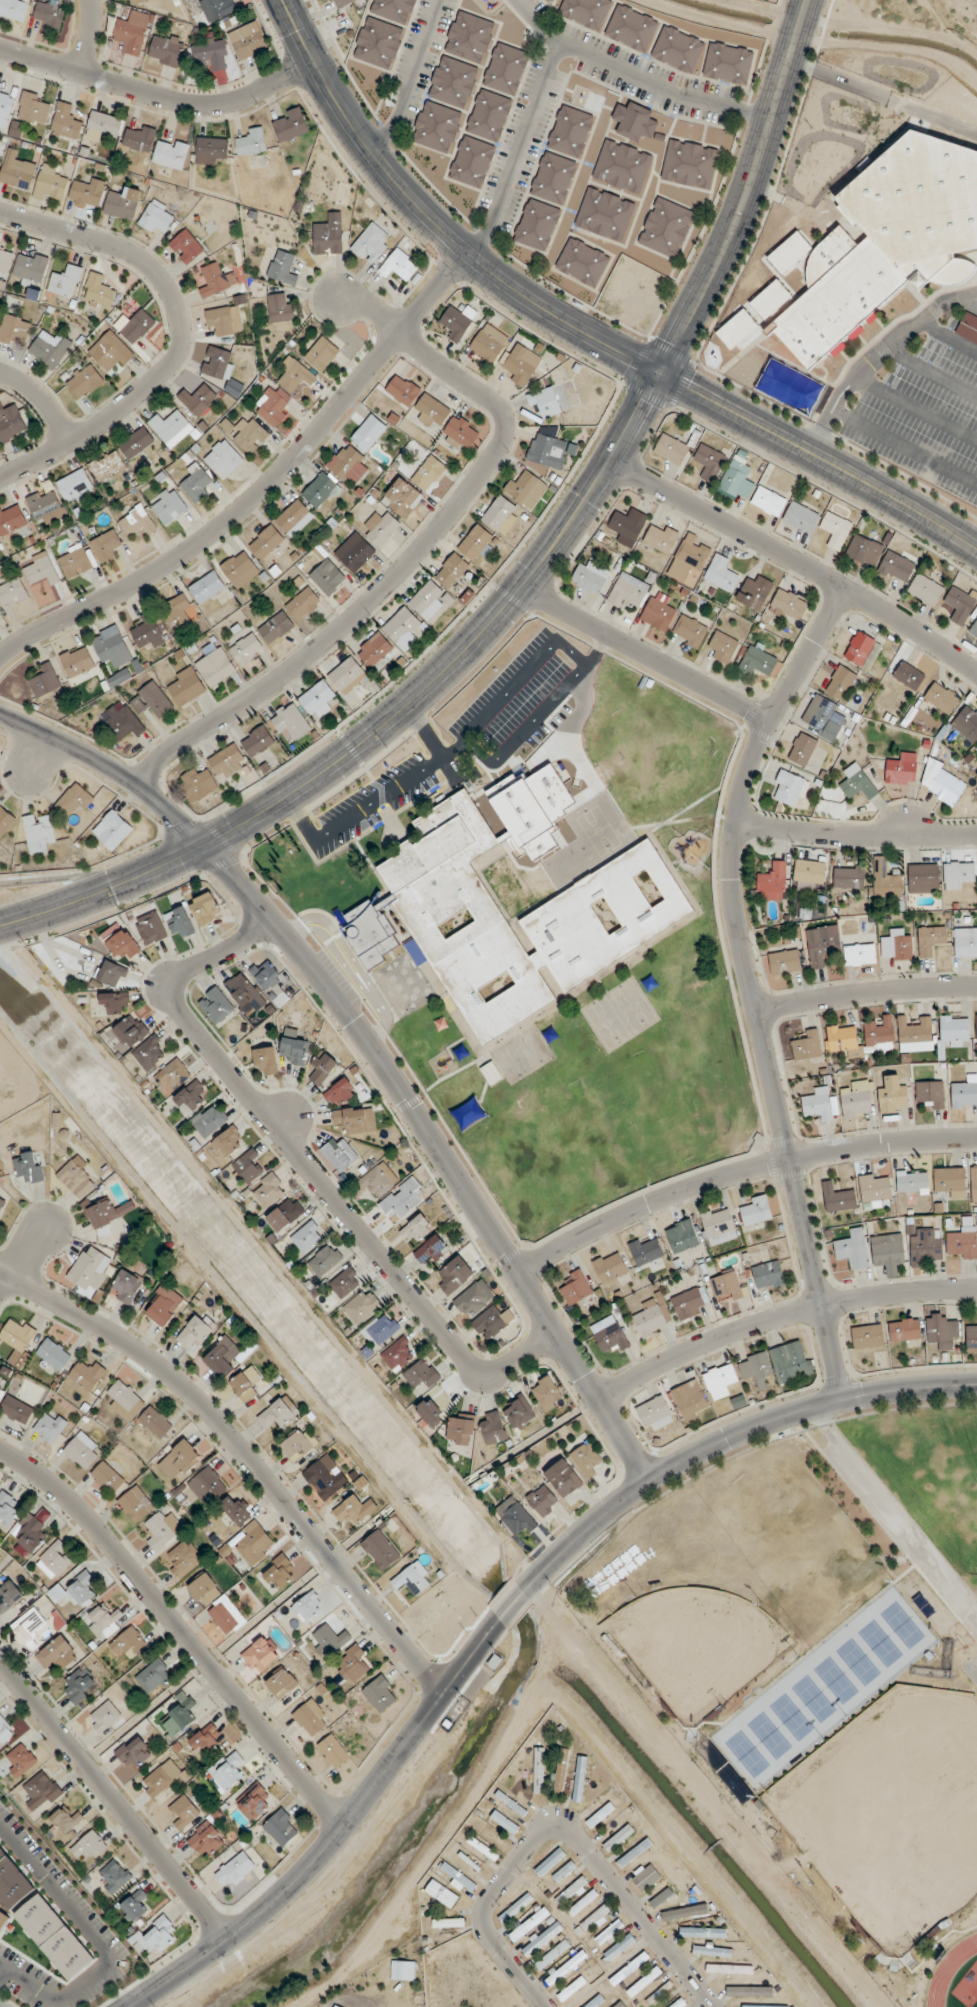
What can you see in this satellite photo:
building: (544, 0)
building: (135, 2)
building: (341, 3)
building: (13, 9)
building: (217, 9)
building: (392, 10)
building: (583, 12)
building: (48, 15)
building: (630, 27)
building: (131, 33)
road: (89, 36)
building: (469, 37)
building: (247, 41)
building: (377, 42)
building: (676, 49)
building: (165, 50)
building: (211, 55)
building: (727, 63)
building: (504, 68)
road: (633, 76)
road: (412, 78)
building: (452, 82)
road: (158, 95)
road: (883, 98)
building: (5, 102)
building: (33, 109)
building: (487, 115)
building: (65, 121)
building: (633, 121)
building: (102, 126)
building: (289, 126)
building: (436, 127)
building: (569, 131)
building: (139, 139)
building: (251, 143)
building: (210, 150)
road: (518, 151)
building: (170, 154)
building: (471, 161)
building: (688, 163)
building: (621, 167)
building: (17, 172)
building: (552, 178)
building: (50, 184)
road: (745, 191)
building: (87, 193)
building: (122, 203)
building: (604, 214)
building: (155, 219)
building: (535, 225)
building: (666, 227)
building: (328, 235)
building: (371, 243)
building: (886, 244)
building: (184, 246)
building: (4, 260)
building: (581, 262)
building: (399, 265)
building: (282, 268)
building: (31, 269)
building: (217, 280)
building: (65, 281)
building: (98, 292)
building: (280, 308)
building: (223, 321)
building: (457, 322)
building: (135, 326)
building: (968, 328)
building: (13, 329)
road: (580, 330)
road: (181, 335)
building: (489, 344)
building: (49, 349)
building: (112, 353)
road: (875, 353)
building: (321, 354)
building: (520, 365)
building: (220, 368)
building: (294, 376)
building: (85, 382)
building: (789, 388)
building: (402, 391)
road: (41, 400)
building: (198, 401)
building: (545, 403)
building: (272, 405)
building: (431, 412)
road: (635, 416)
building: (11, 423)
building: (170, 428)
building: (368, 433)
building: (460, 434)
building: (249, 435)
building: (135, 442)
building: (670, 449)
building: (546, 451)
building: (223, 459)
building: (344, 462)
building: (708, 463)
building: (106, 466)
building: (428, 473)
building: (737, 481)
building: (197, 482)
building: (75, 486)
road: (262, 489)
building: (526, 490)
building: (321, 491)
building: (402, 498)
building: (768, 501)
building: (168, 506)
building: (45, 507)
building: (498, 513)
building: (800, 517)
building: (294, 518)
building: (137, 521)
building: (12, 524)
building: (627, 527)
building: (380, 529)
building: (835, 530)
building: (661, 538)
building: (265, 543)
building: (476, 544)
building: (105, 546)
road: (422, 547)
building: (863, 551)
building: (354, 553)
building: (688, 559)
building: (74, 561)
road: (796, 561)
building: (237, 566)
building: (896, 567)
building: (40, 570)
building: (451, 571)
building: (721, 574)
building: (326, 577)
building: (589, 577)
building: (206, 588)
building: (925, 590)
building: (754, 592)
building: (12, 593)
building: (625, 594)
building: (428, 599)
building: (302, 604)
building: (957, 606)
building: (786, 607)
building: (177, 612)
building: (657, 614)
building: (276, 628)
building: (402, 628)
building: (973, 630)
building: (689, 631)
building: (148, 633)
building: (109, 645)
building: (723, 647)
building: (246, 649)
building: (859, 649)
building: (375, 652)
road: (644, 654)
building: (77, 661)
building: (758, 662)
building: (215, 665)
road: (524, 672)
building: (349, 676)
building: (908, 676)
building: (120, 677)
building: (45, 680)
building: (840, 683)
building: (185, 687)
building: (941, 698)
building: (317, 700)
building: (153, 701)
building: (824, 720)
building: (290, 721)
building: (121, 724)
building: (966, 724)
building: (590, 737)
building: (256, 741)
building: (976, 747)
building: (802, 750)
road: (350, 751)
building: (567, 751)
building: (603, 758)
building: (226, 762)
building: (546, 765)
road: (109, 768)
building: (901, 770)
building: (581, 771)
building: (615, 777)
building: (857, 783)
building: (942, 784)
building: (197, 785)
building: (559, 786)
building: (790, 789)
building: (593, 792)
road: (382, 796)
building: (628, 797)
building: (77, 802)
building: (572, 805)
building: (606, 811)
building: (5, 821)
building: (585, 825)
building: (112, 830)
building: (38, 832)
road: (855, 835)
building: (611, 846)
building: (520, 860)
building: (502, 874)
building: (808, 875)
building: (957, 875)
building: (848, 877)
building: (531, 878)
building: (772, 878)
building: (923, 879)
building: (886, 883)
building: (513, 890)
building: (205, 909)
building: (603, 921)
building: (179, 923)
building: (150, 928)
building: (930, 941)
building: (965, 942)
building: (822, 944)
building: (121, 945)
building: (897, 946)
building: (860, 955)
building: (784, 962)
road: (350, 972)
building: (112, 974)
building: (266, 976)
road: (751, 984)
road: (866, 991)
building: (244, 992)
building: (115, 1002)
building: (216, 1006)
building: (976, 1027)
building: (954, 1028)
building: (131, 1031)
building: (915, 1035)
building: (879, 1036)
building: (843, 1039)
building: (807, 1047)
building: (293, 1048)
building: (149, 1053)
building: (265, 1062)
building: (322, 1069)
building: (491, 1073)
building: (173, 1074)
building: (340, 1092)
building: (965, 1093)
building: (930, 1094)
building: (892, 1096)
building: (191, 1097)
building: (856, 1099)
building: (818, 1104)
building: (209, 1120)
building: (355, 1120)
building: (228, 1141)
road: (442, 1152)
building: (339, 1155)
building: (249, 1166)
building: (28, 1167)
road: (309, 1169)
road: (737, 1172)
building: (76, 1177)
building: (912, 1182)
building: (950, 1182)
building: (974, 1186)
building: (268, 1190)
building: (875, 1190)
building: (838, 1198)
building: (2, 1206)
building: (755, 1211)
building: (108, 1213)
building: (285, 1215)
building: (718, 1226)
building: (416, 1229)
building: (682, 1236)
building: (307, 1237)
building: (961, 1243)
building: (924, 1246)
building: (432, 1249)
building: (646, 1251)
building: (853, 1251)
building: (888, 1252)
road: (22, 1253)
building: (324, 1261)
building: (610, 1267)
building: (90, 1269)
building: (454, 1275)
building: (768, 1276)
building: (344, 1284)
building: (728, 1286)
building: (126, 1287)
building: (575, 1289)
building: (474, 1299)
building: (688, 1304)
building: (163, 1306)
building: (362, 1308)
road: (781, 1316)
building: (652, 1319)
building: (489, 1324)
building: (381, 1330)
building: (904, 1330)
building: (195, 1331)
building: (942, 1333)
building: (18, 1334)
building: (611, 1338)
building: (867, 1339)
building: (971, 1339)
building: (54, 1354)
building: (400, 1354)
building: (226, 1358)
building: (791, 1361)
building: (16, 1362)
building: (755, 1369)
building: (422, 1374)
building: (85, 1378)
building: (720, 1381)
building: (247, 1384)
building: (547, 1394)
building: (125, 1401)
building: (690, 1401)
building: (16, 1410)
building: (278, 1413)
building: (518, 1413)
building: (655, 1414)
building: (155, 1422)
building: (460, 1426)
building: (49, 1427)
road: (728, 1438)
building: (298, 1444)
building: (82, 1451)
road: (246, 1453)
building: (179, 1460)
building: (586, 1460)
building: (325, 1477)
building: (107, 1478)
building: (563, 1478)
building: (207, 1486)
building: (542, 1500)
building: (135, 1505)
building: (6, 1508)
road: (894, 1509)
building: (354, 1510)
building: (235, 1511)
building: (517, 1520)
building: (162, 1530)
building: (30, 1533)
building: (254, 1545)
building: (380, 1550)
building: (183, 1558)
building: (54, 1561)
building: (278, 1573)
building: (414, 1579)
building: (202, 1586)
building: (75, 1590)
building: (9, 1596)
building: (308, 1607)
road: (506, 1613)
building: (226, 1615)
building: (105, 1622)
park: (900, 1624)
building: (29, 1626)
road: (180, 1629)
building: (330, 1640)
building: (128, 1642)
park: (879, 1643)
park: (694, 1645)
building: (57, 1654)
building: (259, 1656)
park: (856, 1661)
building: (354, 1664)
building: (153, 1676)
park: (834, 1680)
building: (281, 1683)
building: (78, 1686)
building: (380, 1694)
park: (811, 1697)
building: (180, 1715)
park: (789, 1716)
building: (104, 1717)
building: (311, 1718)
building: (5, 1732)
park: (768, 1735)
building: (205, 1740)
building: (134, 1752)
building: (333, 1752)
park: (745, 1753)
building: (21, 1761)
building: (227, 1771)
building: (538, 1771)
building: (560, 1772)
building: (161, 1778)
building: (579, 1780)
building: (41, 1792)
road: (114, 1799)
building: (254, 1802)
building: (511, 1803)
park: (890, 1811)
building: (184, 1812)
building: (603, 1814)
building: (63, 1823)
building: (504, 1823)
road: (557, 1826)
building: (281, 1828)
building: (207, 1841)
road: (329, 1842)
building: (88, 1847)
building: (482, 1848)
building: (633, 1855)
building: (549, 1862)
building: (234, 1870)
building: (114, 1877)
building: (646, 1877)
building: (571, 1892)
building: (441, 1895)
building: (583, 1903)
building: (134, 1905)
building: (515, 1909)
building: (684, 1913)
building: (593, 1921)
building: (448, 1923)
building: (529, 1925)
building: (609, 1932)
building: (702, 1933)
building: (936, 1933)
building: (157, 1937)
building: (542, 1940)
road: (97, 1941)
building: (617, 1949)
building: (712, 1952)
building: (551, 1955)
building: (634, 1966)
building: (729, 1969)
building: (564, 1970)
track: (948, 1970)
building: (402, 1971)
stadium: (954, 1974)
road: (4, 1976)
building: (645, 1982)
building: (578, 1984)
building: (749, 1992)
building: (659, 1996)
building: (600, 1999)
building: (679, 2004)
building: (619, 2005)
building: (335, 2006)
building: (764, 2006)

